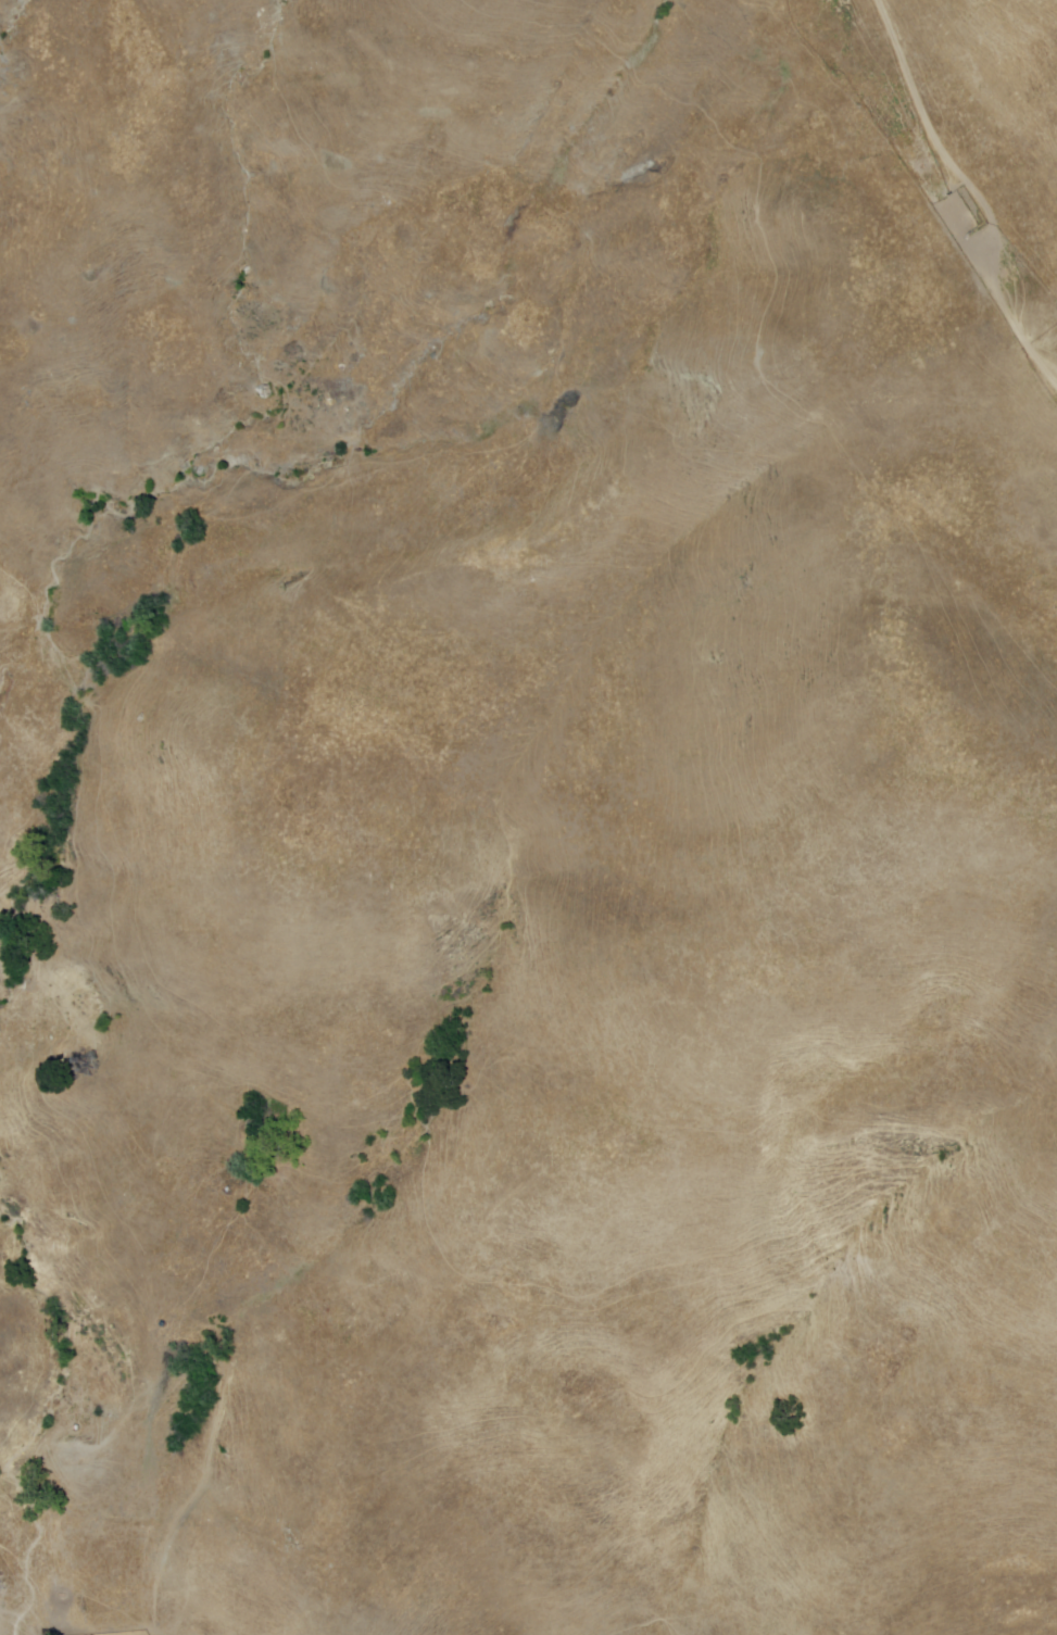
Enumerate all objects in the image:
road: (974, 197)

